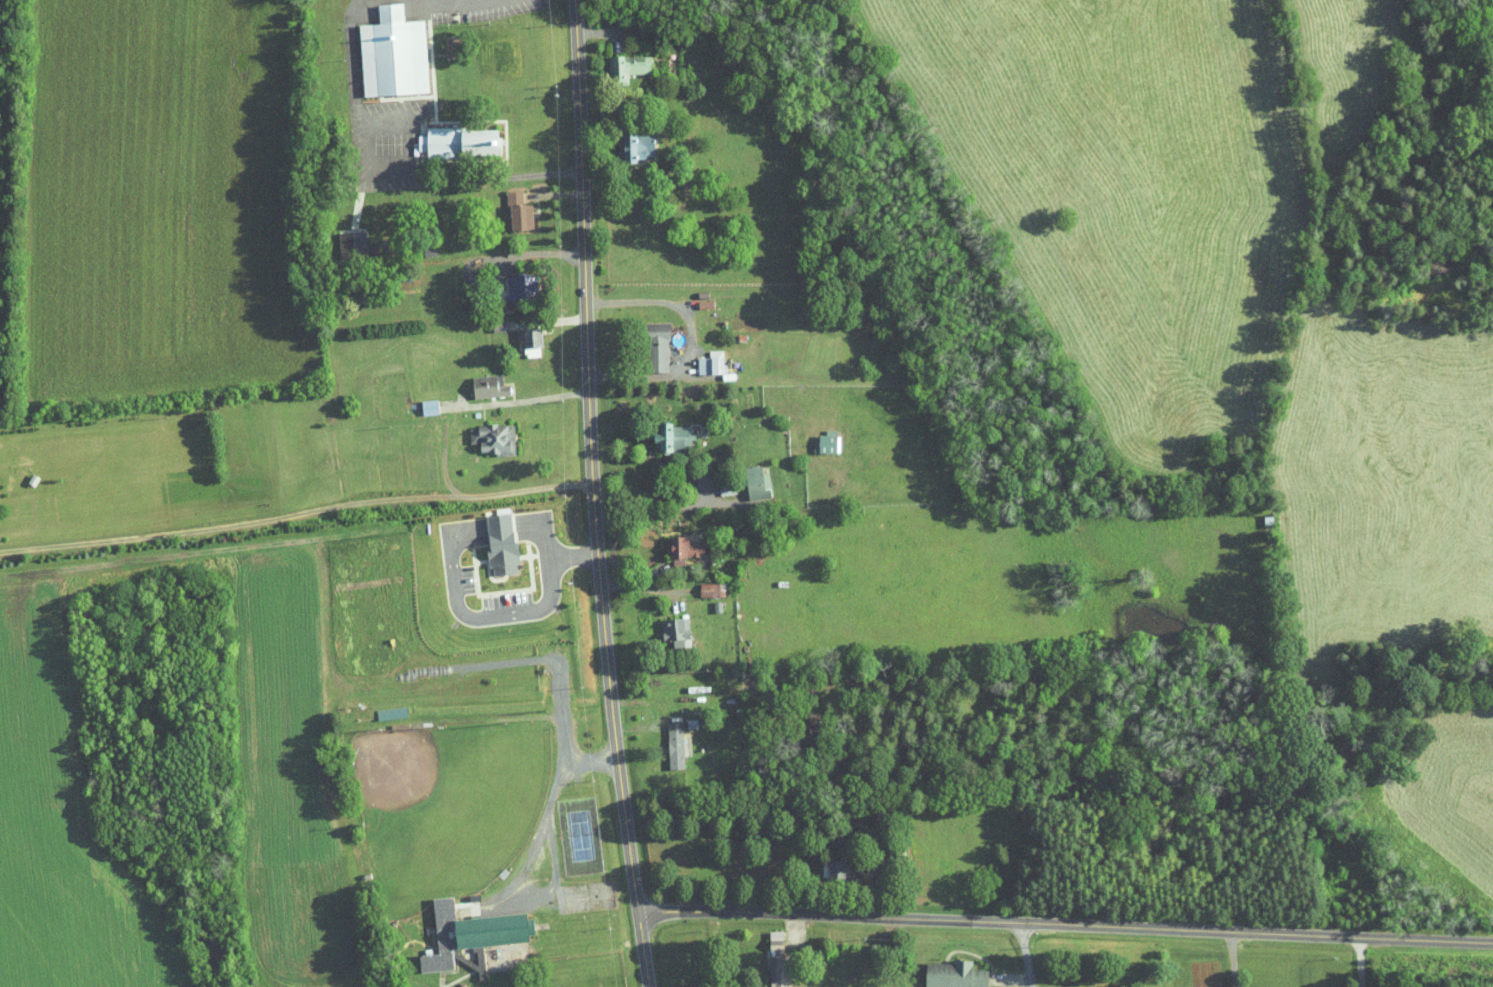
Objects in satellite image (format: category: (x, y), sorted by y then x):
road: (410, 0)
building: (382, 49)
building: (490, 49)
building: (618, 61)
road: (602, 69)
building: (448, 136)
building: (628, 142)
road: (608, 151)
road: (388, 165)
road: (550, 189)
building: (508, 206)
building: (342, 237)
road: (532, 252)
building: (509, 281)
road: (663, 299)
road: (560, 330)
building: (521, 336)
building: (646, 340)
building: (701, 356)
road: (576, 377)
building: (478, 379)
building: (418, 400)
building: (663, 430)
building: (482, 431)
road: (542, 432)
building: (817, 435)
road: (633, 441)
building: (747, 476)
road: (707, 488)
road: (592, 494)
road: (296, 510)
building: (490, 536)
building: (674, 542)
road: (643, 565)
building: (701, 582)
road: (642, 600)
road: (510, 610)
building: (665, 623)
building: (664, 738)
road: (646, 745)
road: (539, 841)
building: (825, 862)
road: (680, 870)
road: (489, 894)
building: (460, 926)
road: (1065, 926)
building: (767, 952)
road: (1078, 952)
road: (707, 953)
road: (1025, 956)
road: (1201, 959)
road: (1357, 962)
road: (489, 967)
building: (944, 969)
road: (1009, 980)
building: (390, 986)

